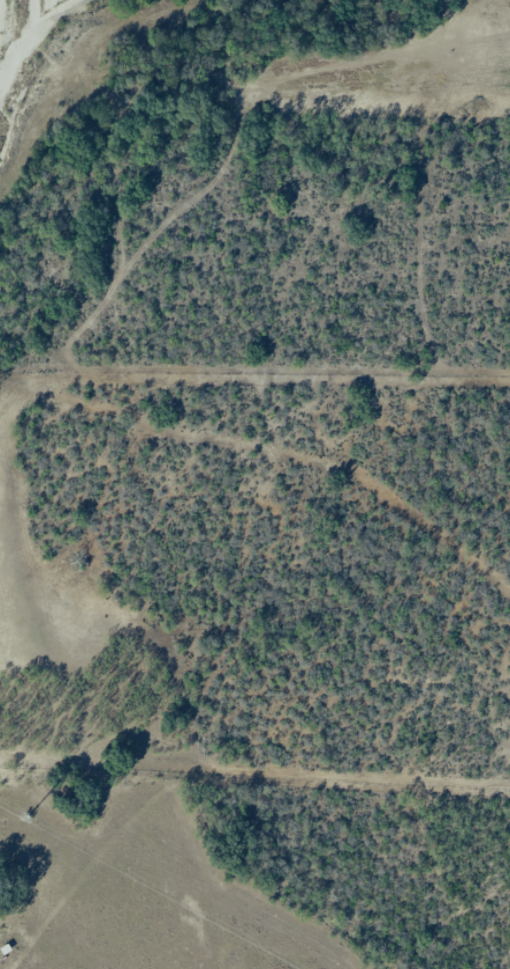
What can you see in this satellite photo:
power tower: (29, 817)

